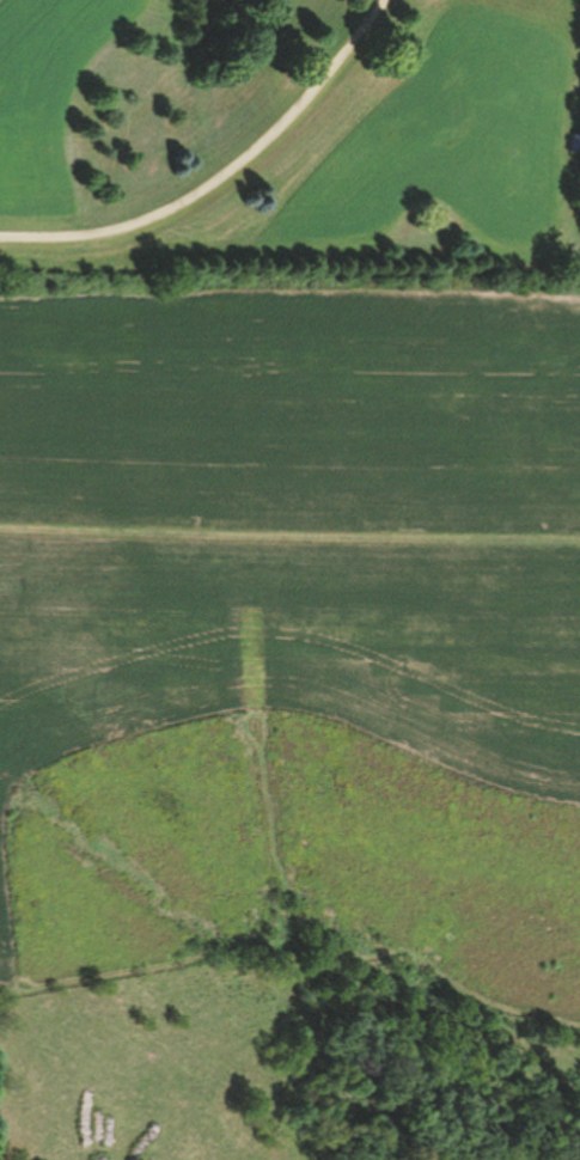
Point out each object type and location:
road: (220, 170)

